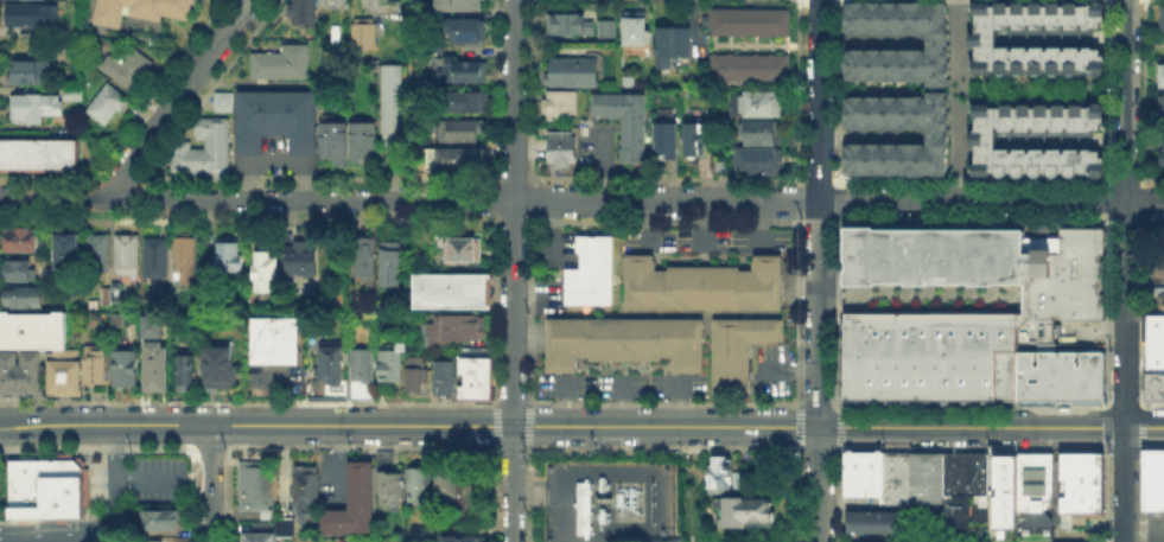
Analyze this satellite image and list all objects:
building: (459, 5)
building: (1163, 7)
building: (301, 9)
building: (144, 11)
building: (31, 14)
building: (752, 24)
building: (567, 25)
building: (605, 30)
building: (637, 31)
building: (465, 33)
building: (361, 34)
road: (1069, 42)
road: (871, 44)
building: (937, 44)
building: (987, 44)
building: (673, 46)
building: (278, 62)
building: (129, 65)
building: (752, 70)
building: (459, 72)
building: (574, 72)
building: (33, 74)
building: (1163, 78)
road: (973, 90)
building: (71, 96)
road: (178, 96)
building: (220, 100)
road: (819, 100)
road: (963, 100)
road: (1127, 100)
building: (759, 103)
building: (467, 104)
building: (393, 106)
building: (564, 106)
building: (108, 107)
building: (1163, 108)
building: (37, 109)
building: (278, 122)
building: (626, 123)
building: (464, 132)
building: (761, 132)
building: (668, 138)
building: (936, 138)
road: (870, 139)
building: (695, 140)
building: (365, 141)
road: (1071, 142)
building: (335, 145)
building: (986, 145)
building: (565, 151)
building: (205, 152)
building: (1162, 152)
building: (38, 158)
building: (456, 160)
building: (757, 161)
building: (723, 168)
road: (408, 199)
road: (972, 200)
road: (1145, 200)
road: (1107, 206)
road: (1145, 209)
building: (23, 242)
building: (1163, 248)
building: (464, 253)
building: (69, 254)
building: (98, 255)
building: (129, 257)
building: (229, 259)
building: (367, 261)
building: (304, 262)
building: (158, 266)
building: (393, 266)
road: (511, 270)
building: (1162, 272)
building: (20, 273)
building: (589, 273)
building: (267, 275)
building: (978, 275)
building: (702, 286)
building: (454, 294)
building: (112, 296)
building: (25, 299)
building: (1160, 302)
road: (1107, 311)
road: (1143, 312)
building: (151, 325)
building: (30, 330)
building: (458, 331)
building: (274, 338)
building: (622, 340)
building: (1155, 340)
building: (736, 349)
building: (927, 357)
building: (389, 363)
building: (153, 364)
building: (93, 365)
building: (216, 365)
building: (123, 366)
parking lot: (770, 369)
building: (19, 370)
building: (184, 370)
road: (819, 370)
road: (1126, 370)
building: (360, 371)
building: (414, 371)
parking lot: (274, 372)
building: (326, 372)
building: (62, 375)
building: (444, 376)
building: (473, 376)
building: (1057, 377)
building: (1155, 384)
parking lot: (621, 385)
road: (634, 389)
road: (274, 395)
road: (249, 402)
road: (513, 404)
road: (664, 404)
road: (816, 404)
road: (1152, 406)
road: (971, 407)
road: (1126, 407)
road: (634, 408)
road: (526, 426)
road: (581, 426)
road: (498, 427)
road: (802, 427)
road: (1107, 427)
traffic signals: (1126, 427)
road: (837, 428)
road: (1140, 428)
road: (211, 448)
road: (362, 448)
road: (513, 449)
road: (663, 449)
road: (100, 451)
road: (819, 451)
road: (974, 451)
road: (1126, 452)
road: (1152, 452)
road: (113, 455)
building: (860, 472)
building: (961, 472)
building: (723, 476)
building: (924, 476)
building: (893, 477)
road: (163, 478)
building: (1152, 478)
parking lot: (155, 479)
building: (1031, 480)
building: (742, 482)
building: (1077, 482)
road: (210, 483)
building: (42, 487)
building: (257, 489)
building: (403, 489)
building: (1003, 490)
building: (449, 491)
road: (1107, 493)
building: (306, 495)
road: (1140, 496)
power substation: (605, 499)
building: (356, 504)
building: (580, 506)
building: (745, 512)
building: (161, 518)
road: (65, 521)
building: (876, 524)
building: (282, 525)
road: (57, 534)
building: (420, 535)
building: (458, 537)
building: (260, 538)
building: (152, 540)
building: (648, 541)
building: (855, 541)

